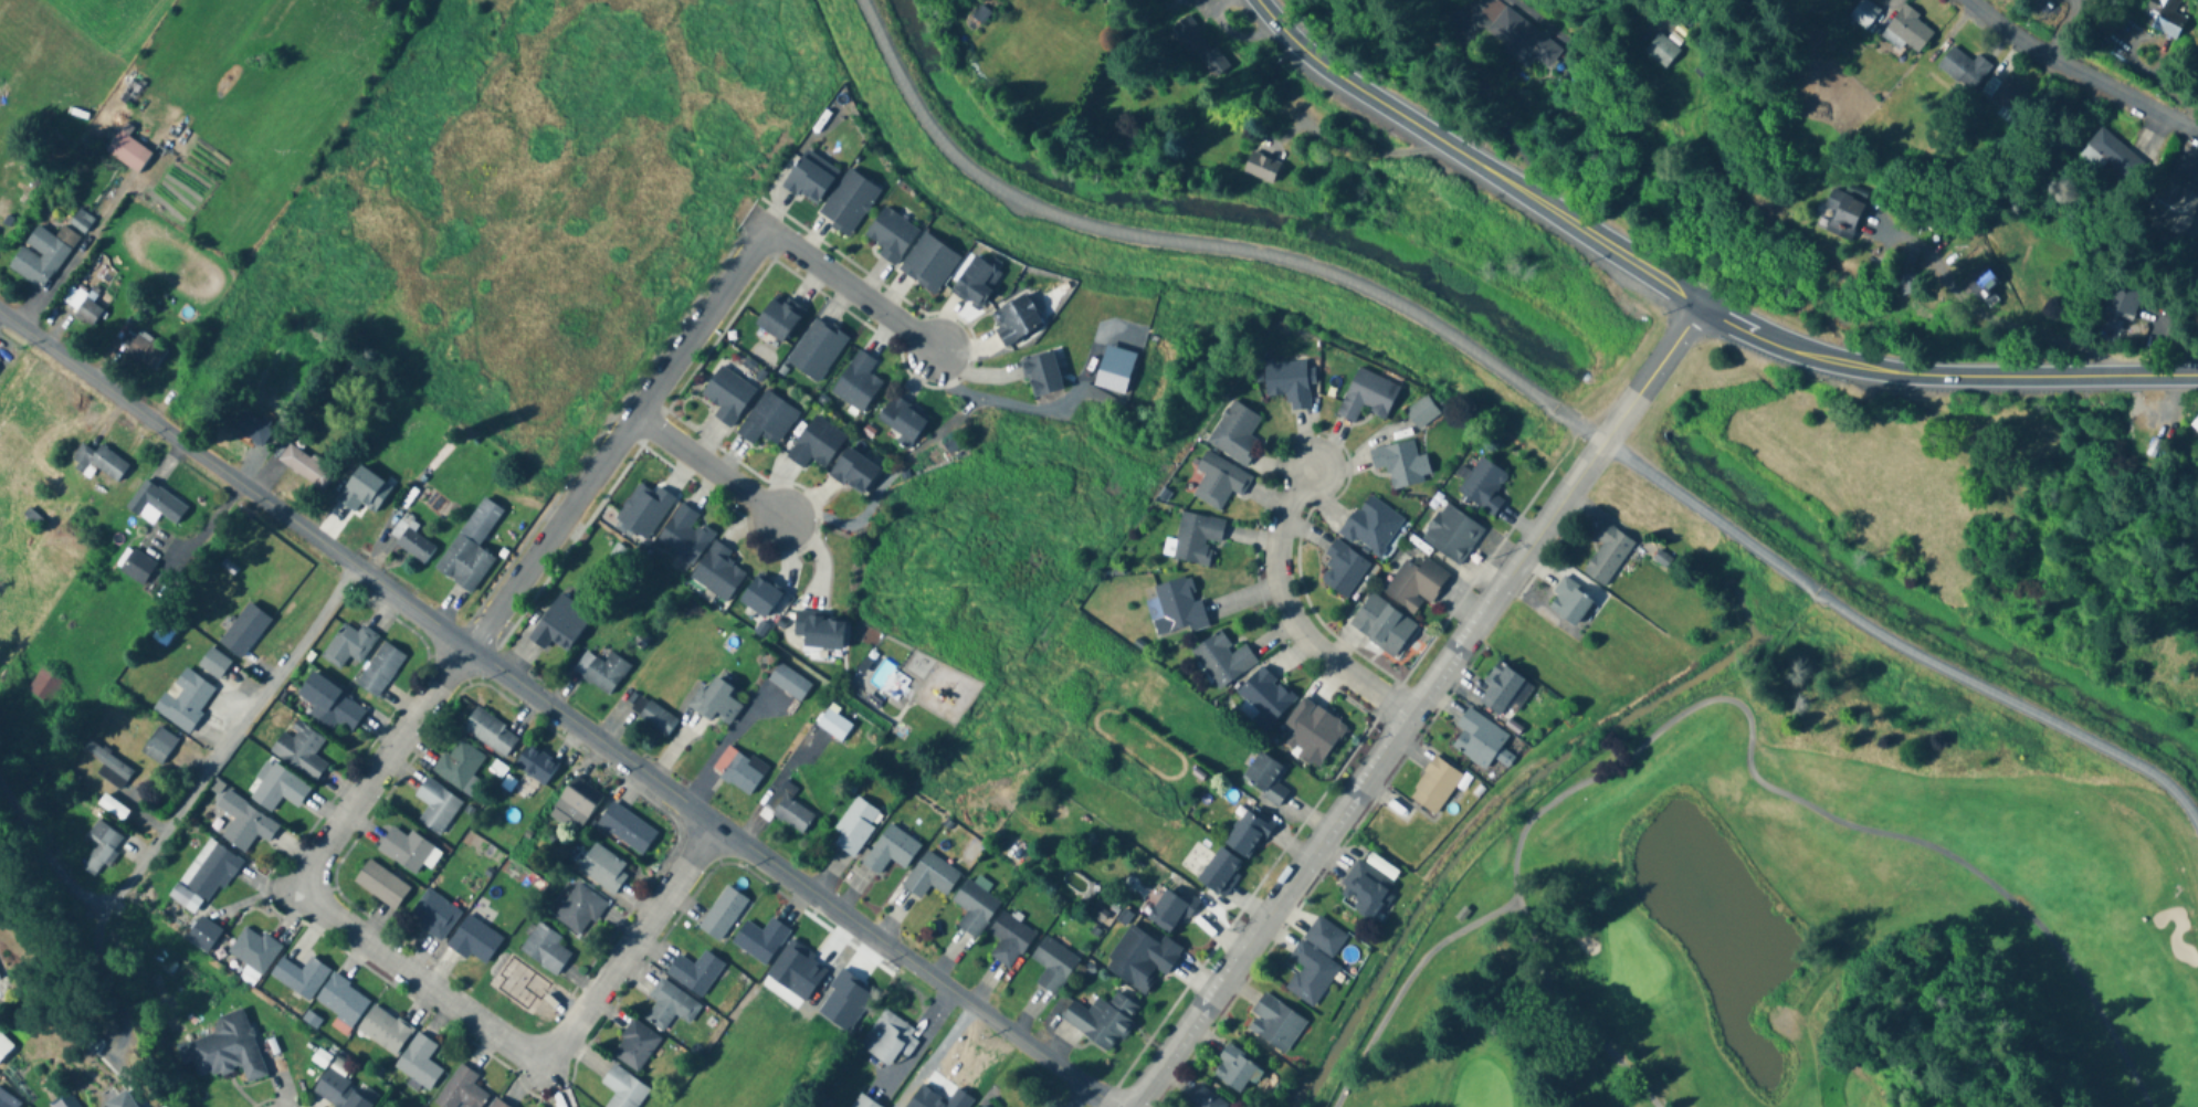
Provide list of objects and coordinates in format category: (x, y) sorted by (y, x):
building: (1187, 2)
building: (2163, 17)
building: (1906, 31)
building: (1517, 36)
building: (1197, 49)
building: (1659, 51)
building: (1964, 68)
road: (2083, 72)
building: (2007, 95)
road: (1493, 107)
building: (1125, 141)
building: (127, 150)
building: (2113, 152)
building: (1261, 168)
building: (808, 182)
building: (849, 203)
building: (2174, 210)
building: (1842, 214)
building: (81, 222)
building: (891, 234)
road: (1201, 243)
building: (42, 256)
building: (929, 264)
building: (1906, 278)
building: (976, 284)
road: (852, 287)
building: (1981, 287)
building: (2124, 298)
road: (1686, 301)
building: (82, 307)
building: (779, 318)
building: (1016, 320)
road: (2036, 335)
building: (817, 350)
building: (145, 351)
building: (1042, 376)
building: (856, 382)
building: (1287, 383)
building: (728, 396)
building: (1367, 396)
building: (1421, 413)
building: (767, 420)
building: (902, 420)
building: (2195, 424)
building: (251, 429)
building: (1235, 434)
road: (619, 436)
building: (817, 444)
building: (98, 464)
building: (1398, 464)
building: (305, 467)
road: (708, 470)
building: (853, 472)
building: (1219, 481)
building: (1483, 486)
building: (156, 503)
building: (644, 510)
building: (1373, 526)
building: (685, 535)
building: (1451, 535)
building: (1197, 537)
building: (412, 542)
building: (1609, 549)
building: (1662, 555)
building: (135, 567)
road: (361, 569)
building: (1342, 569)
building: (717, 572)
building: (1416, 583)
building: (760, 597)
building: (1569, 600)
road: (1287, 608)
building: (1175, 609)
building: (559, 624)
building: (1382, 625)
building: (819, 631)
building: (245, 632)
building: (162, 635)
road: (1895, 637)
building: (348, 646)
building: (1221, 660)
building: (213, 664)
building: (380, 670)
building: (601, 672)
building: (789, 683)
building: (44, 686)
building: (1503, 688)
building: (1264, 696)
building: (185, 700)
building: (715, 702)
road: (1411, 704)
building: (330, 705)
building: (656, 718)
road: (1749, 720)
building: (833, 725)
building: (1311, 732)
building: (490, 734)
building: (1482, 737)
building: (159, 747)
building: (299, 750)
building: (106, 761)
building: (459, 765)
building: (535, 765)
building: (738, 770)
building: (1265, 778)
building: (1435, 786)
building: (278, 789)
building: (577, 802)
road: (188, 803)
building: (437, 806)
building: (113, 808)
building: (789, 813)
building: (244, 823)
building: (855, 825)
building: (625, 829)
building: (1247, 834)
building: (99, 847)
building: (404, 850)
building: (891, 850)
building: (1017, 852)
building: (603, 868)
park: (1739, 869)
building: (209, 872)
building: (1220, 872)
building: (930, 876)
building: (1369, 882)
building: (381, 885)
building: (974, 907)
building: (579, 909)
building: (1171, 909)
building: (1462, 910)
building: (722, 913)
building: (433, 915)
building: (208, 929)
building: (1323, 937)
building: (1009, 938)
building: (760, 939)
building: (475, 940)
building: (545, 948)
building: (253, 949)
building: (1142, 958)
building: (1052, 963)
road: (914, 968)
building: (1311, 970)
building: (694, 971)
road: (414, 974)
building: (0, 976)
building: (301, 977)
road: (1406, 983)
building: (341, 1000)
building: (670, 1005)
building: (1102, 1019)
building: (1274, 1020)
building: (383, 1030)
building: (888, 1039)
building: (4, 1046)
building: (634, 1046)
building: (227, 1050)
building: (419, 1063)
building: (1239, 1066)
building: (623, 1088)
building: (461, 1090)
building: (339, 1094)
building: (1205, 1098)
building: (8, 1100)
building: (122, 1100)
building: (862, 1101)
building: (497, 1104)
building: (981, 1106)

